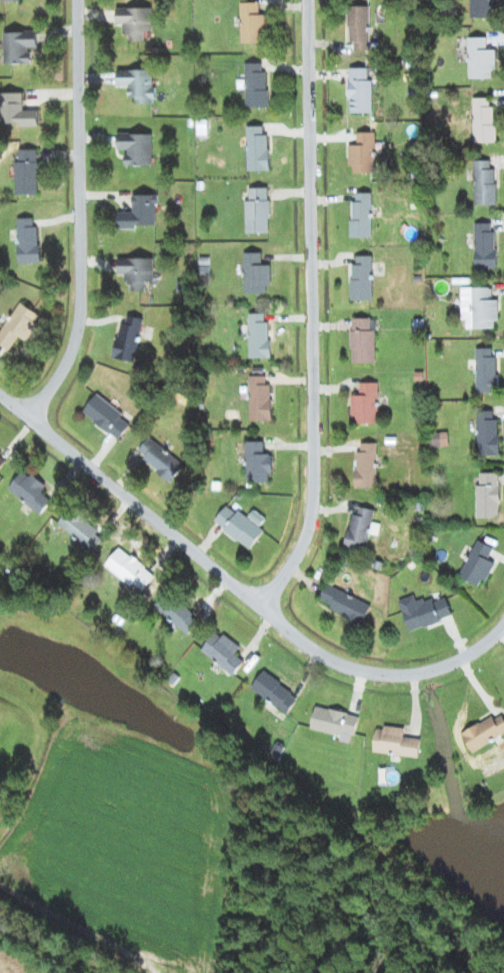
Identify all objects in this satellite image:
building: (10, 0)
building: (482, 8)
building: (135, 21)
building: (253, 23)
building: (359, 26)
building: (19, 46)
building: (480, 58)
building: (138, 83)
building: (256, 85)
building: (360, 90)
building: (17, 110)
building: (483, 120)
building: (137, 147)
building: (257, 148)
building: (364, 153)
building: (27, 172)
building: (485, 182)
building: (257, 210)
road: (74, 211)
building: (141, 212)
building: (362, 217)
building: (28, 240)
building: (485, 245)
building: (138, 271)
building: (256, 273)
building: (362, 278)
road: (310, 307)
building: (479, 307)
building: (19, 325)
building: (258, 335)
building: (129, 337)
building: (363, 340)
building: (486, 370)
building: (260, 398)
building: (366, 403)
building: (108, 415)
building: (487, 434)
building: (439, 438)
building: (3, 458)
building: (160, 458)
building: (257, 462)
building: (367, 465)
building: (30, 491)
building: (488, 495)
building: (241, 524)
building: (81, 529)
building: (478, 563)
building: (130, 569)
road: (238, 584)
building: (346, 604)
building: (424, 611)
building: (177, 612)
building: (223, 652)
building: (275, 692)
building: (334, 721)
building: (485, 731)
building: (395, 741)
road: (77, 927)

